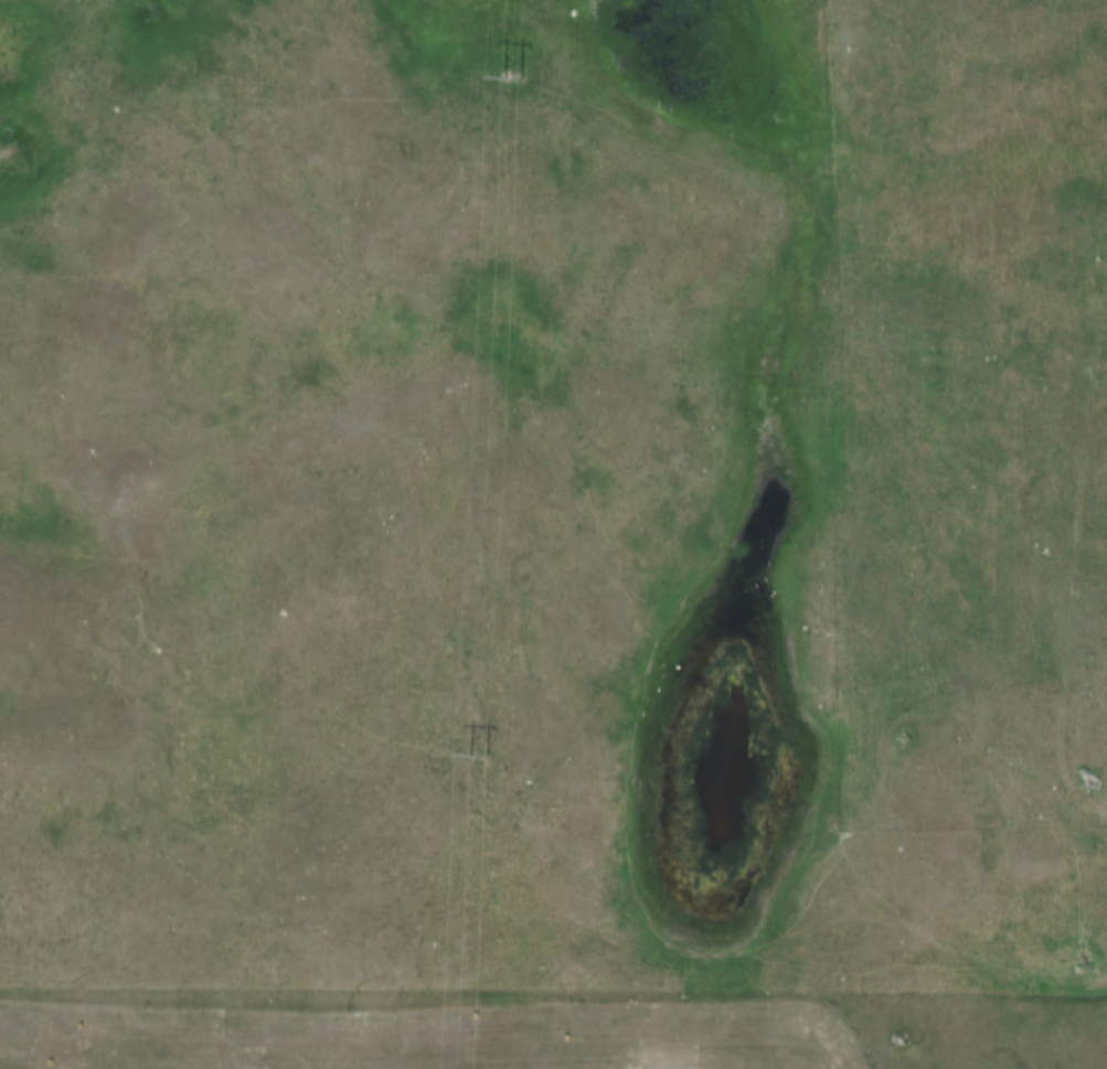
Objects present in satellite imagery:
power tower: (513, 78)
power tower: (477, 756)

